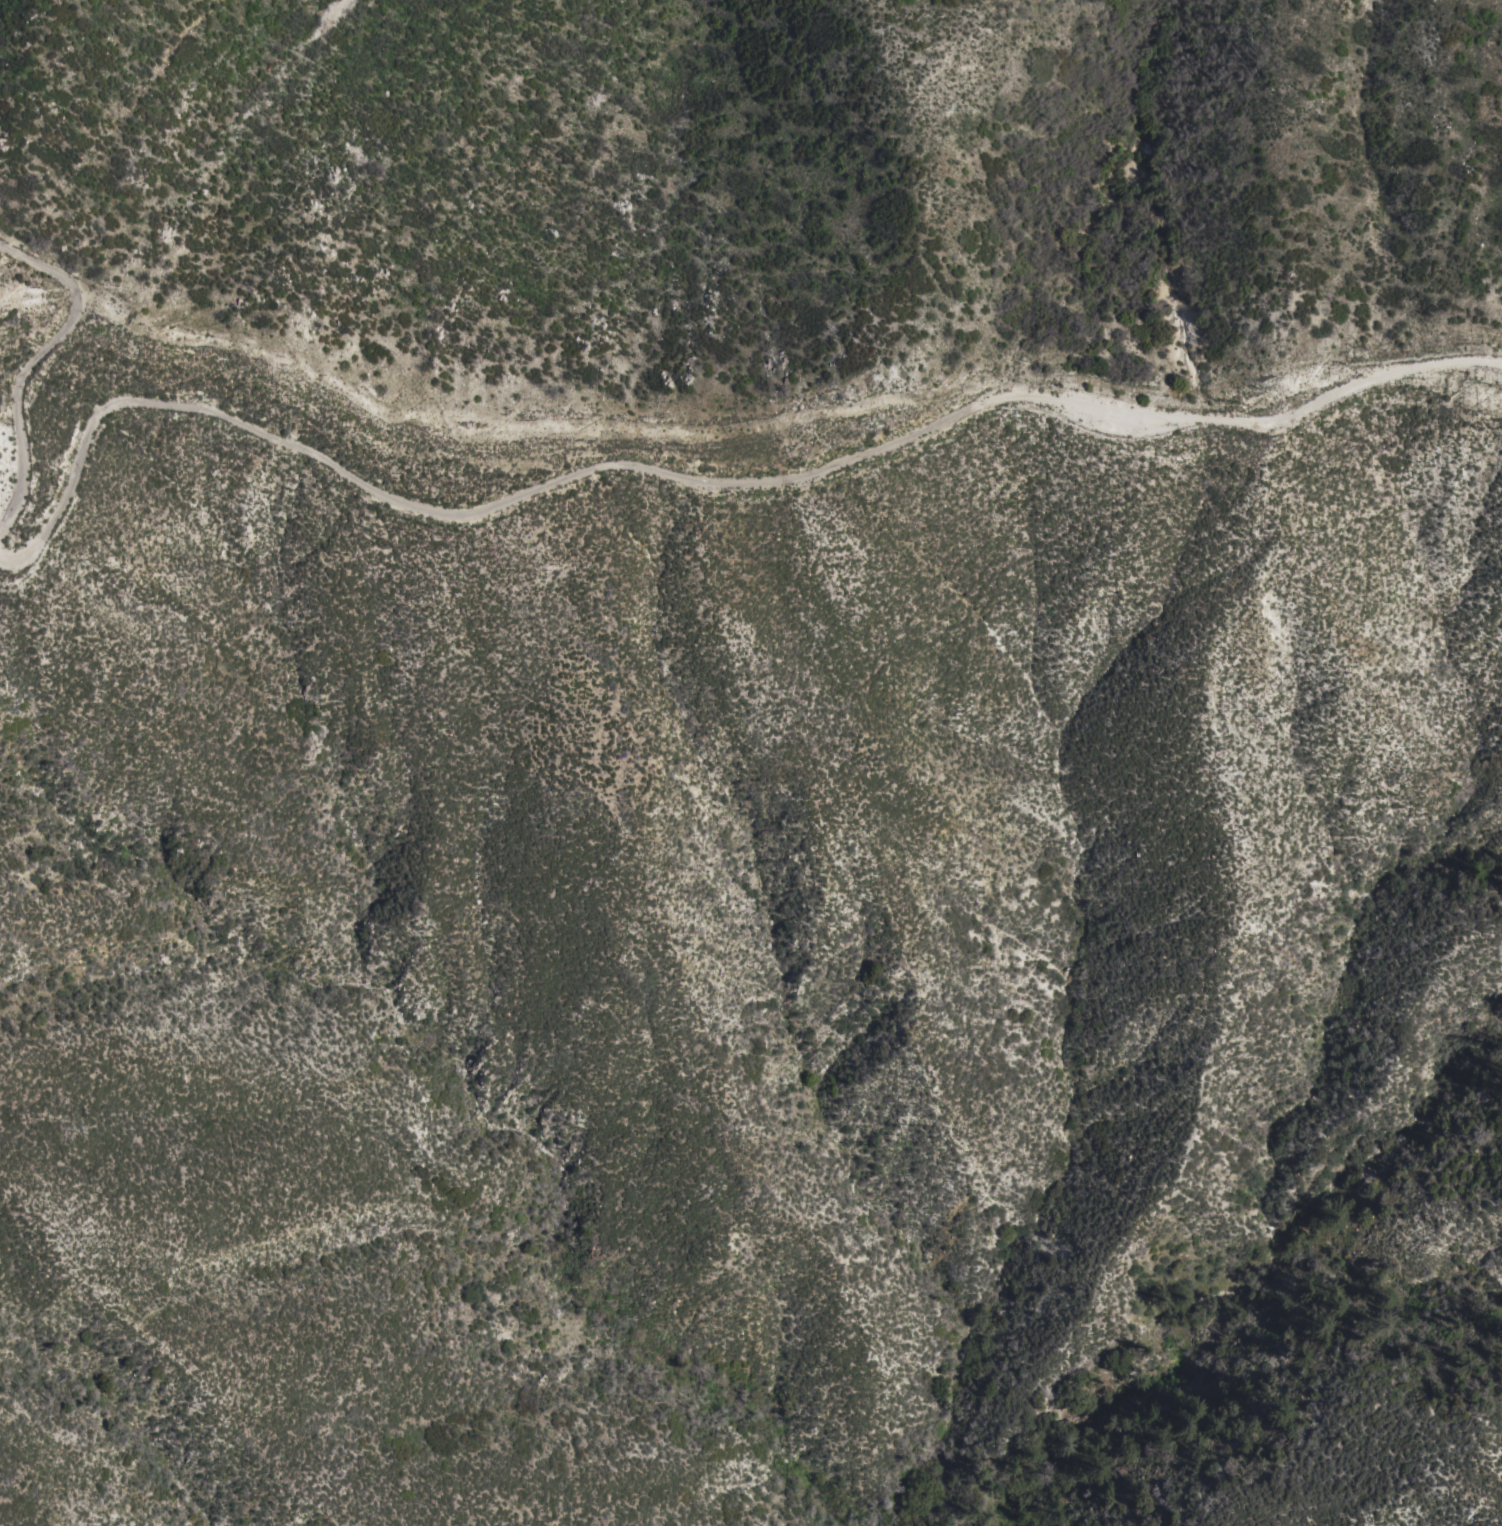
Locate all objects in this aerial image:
road: (516, 492)

